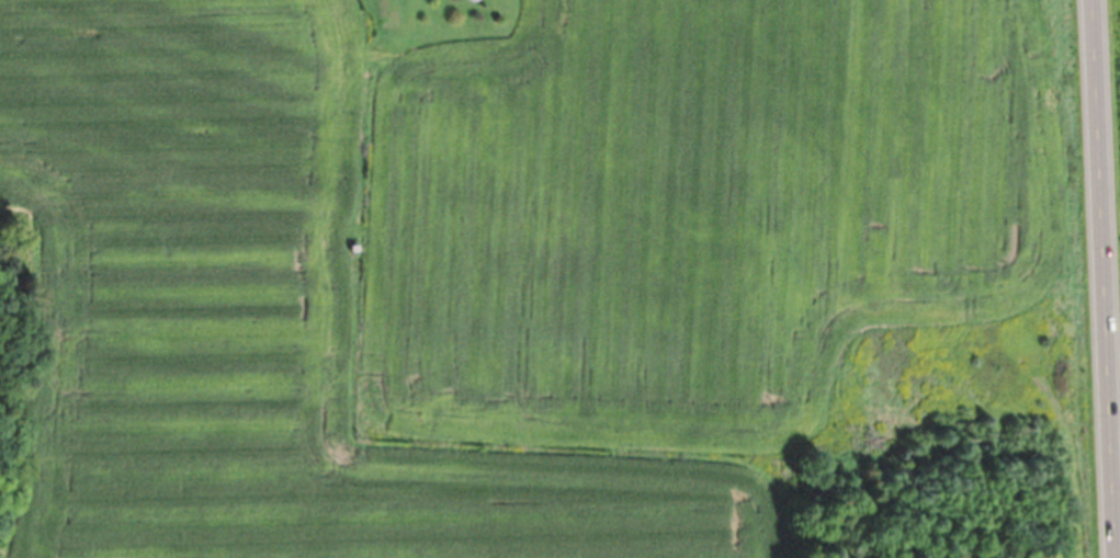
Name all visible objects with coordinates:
road: (1105, 278)

